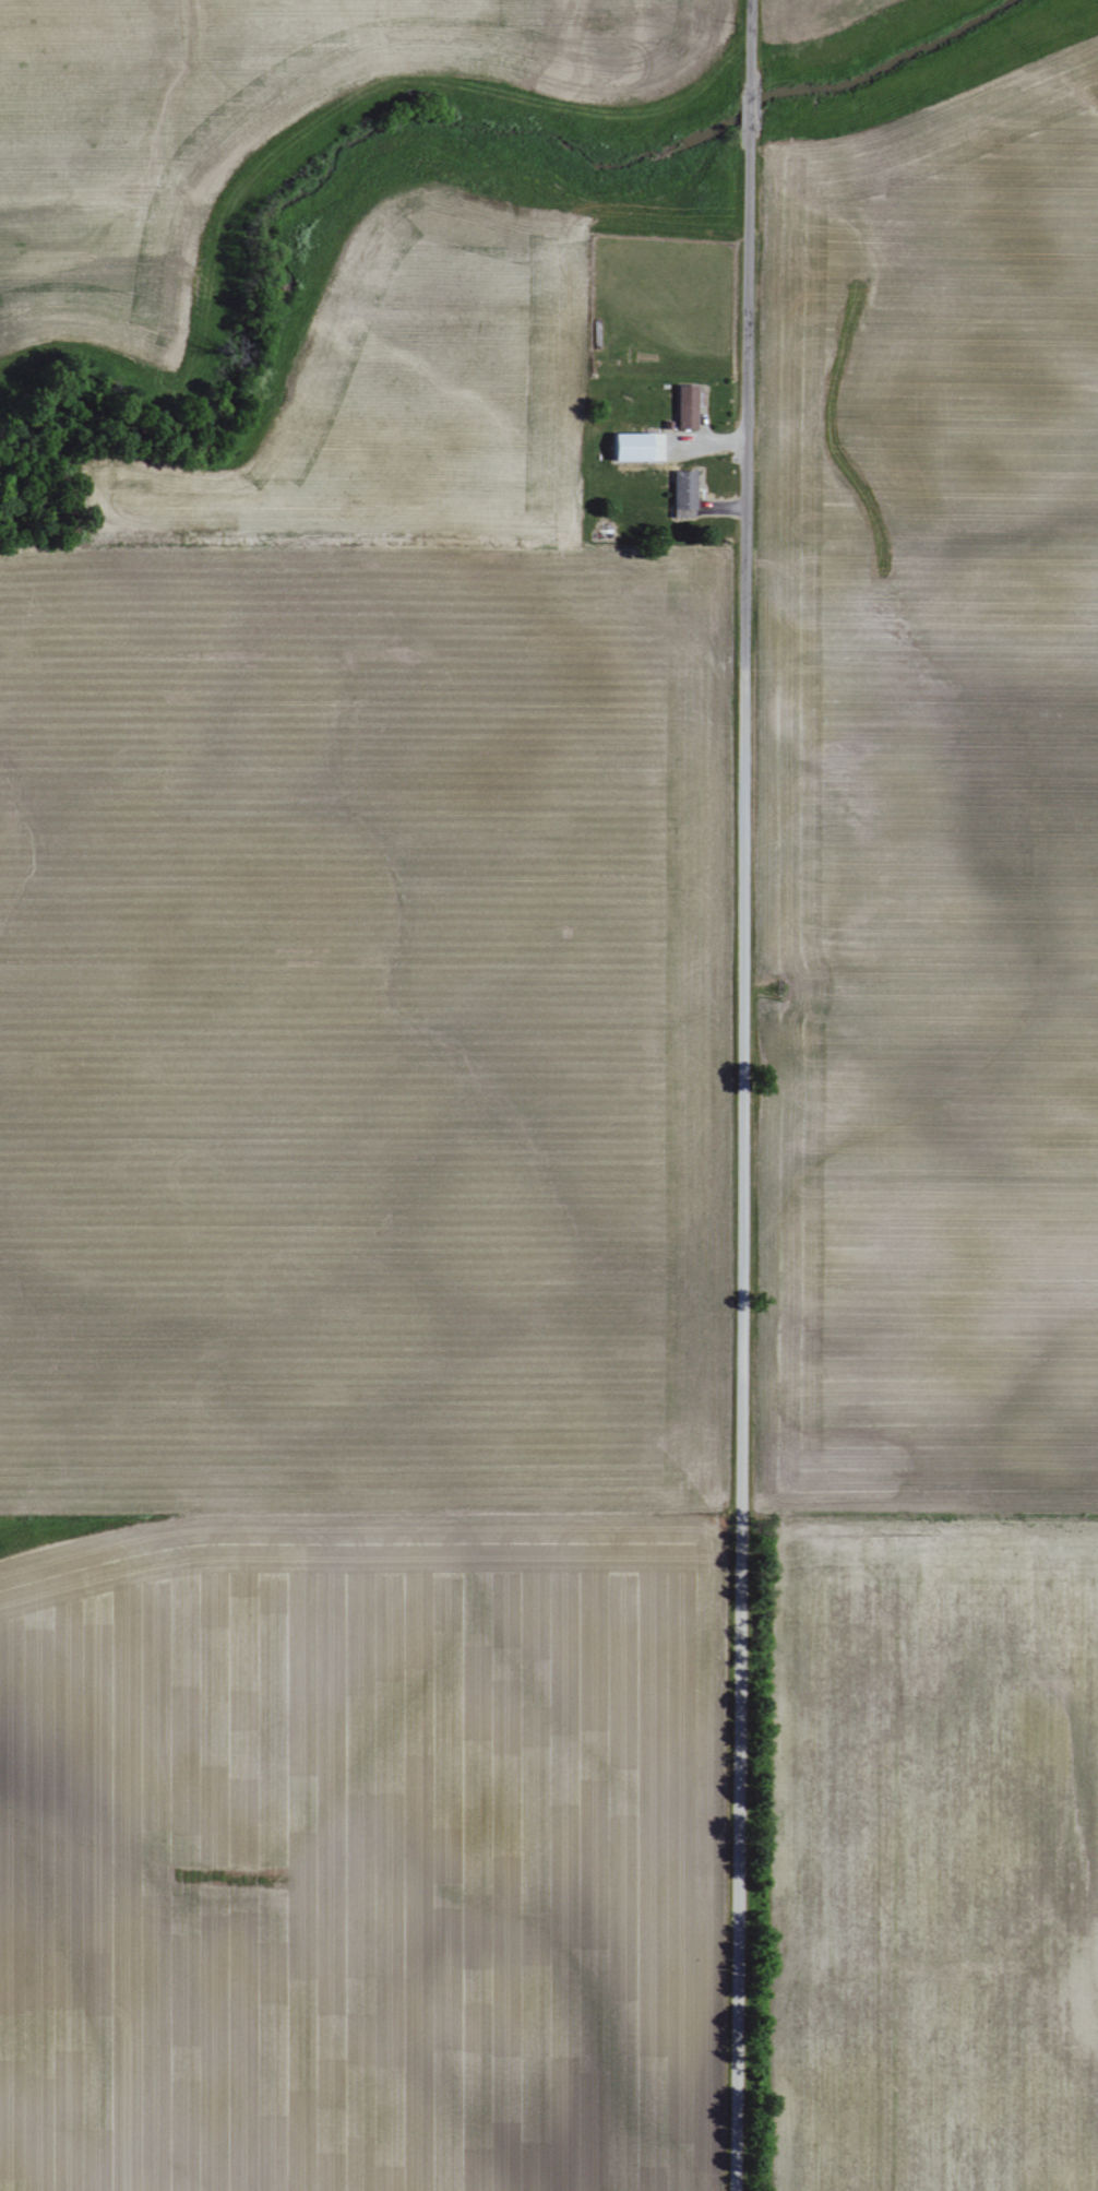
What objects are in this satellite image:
building: (685, 406)
building: (631, 447)
building: (658, 447)
building: (683, 494)
road: (741, 1095)

